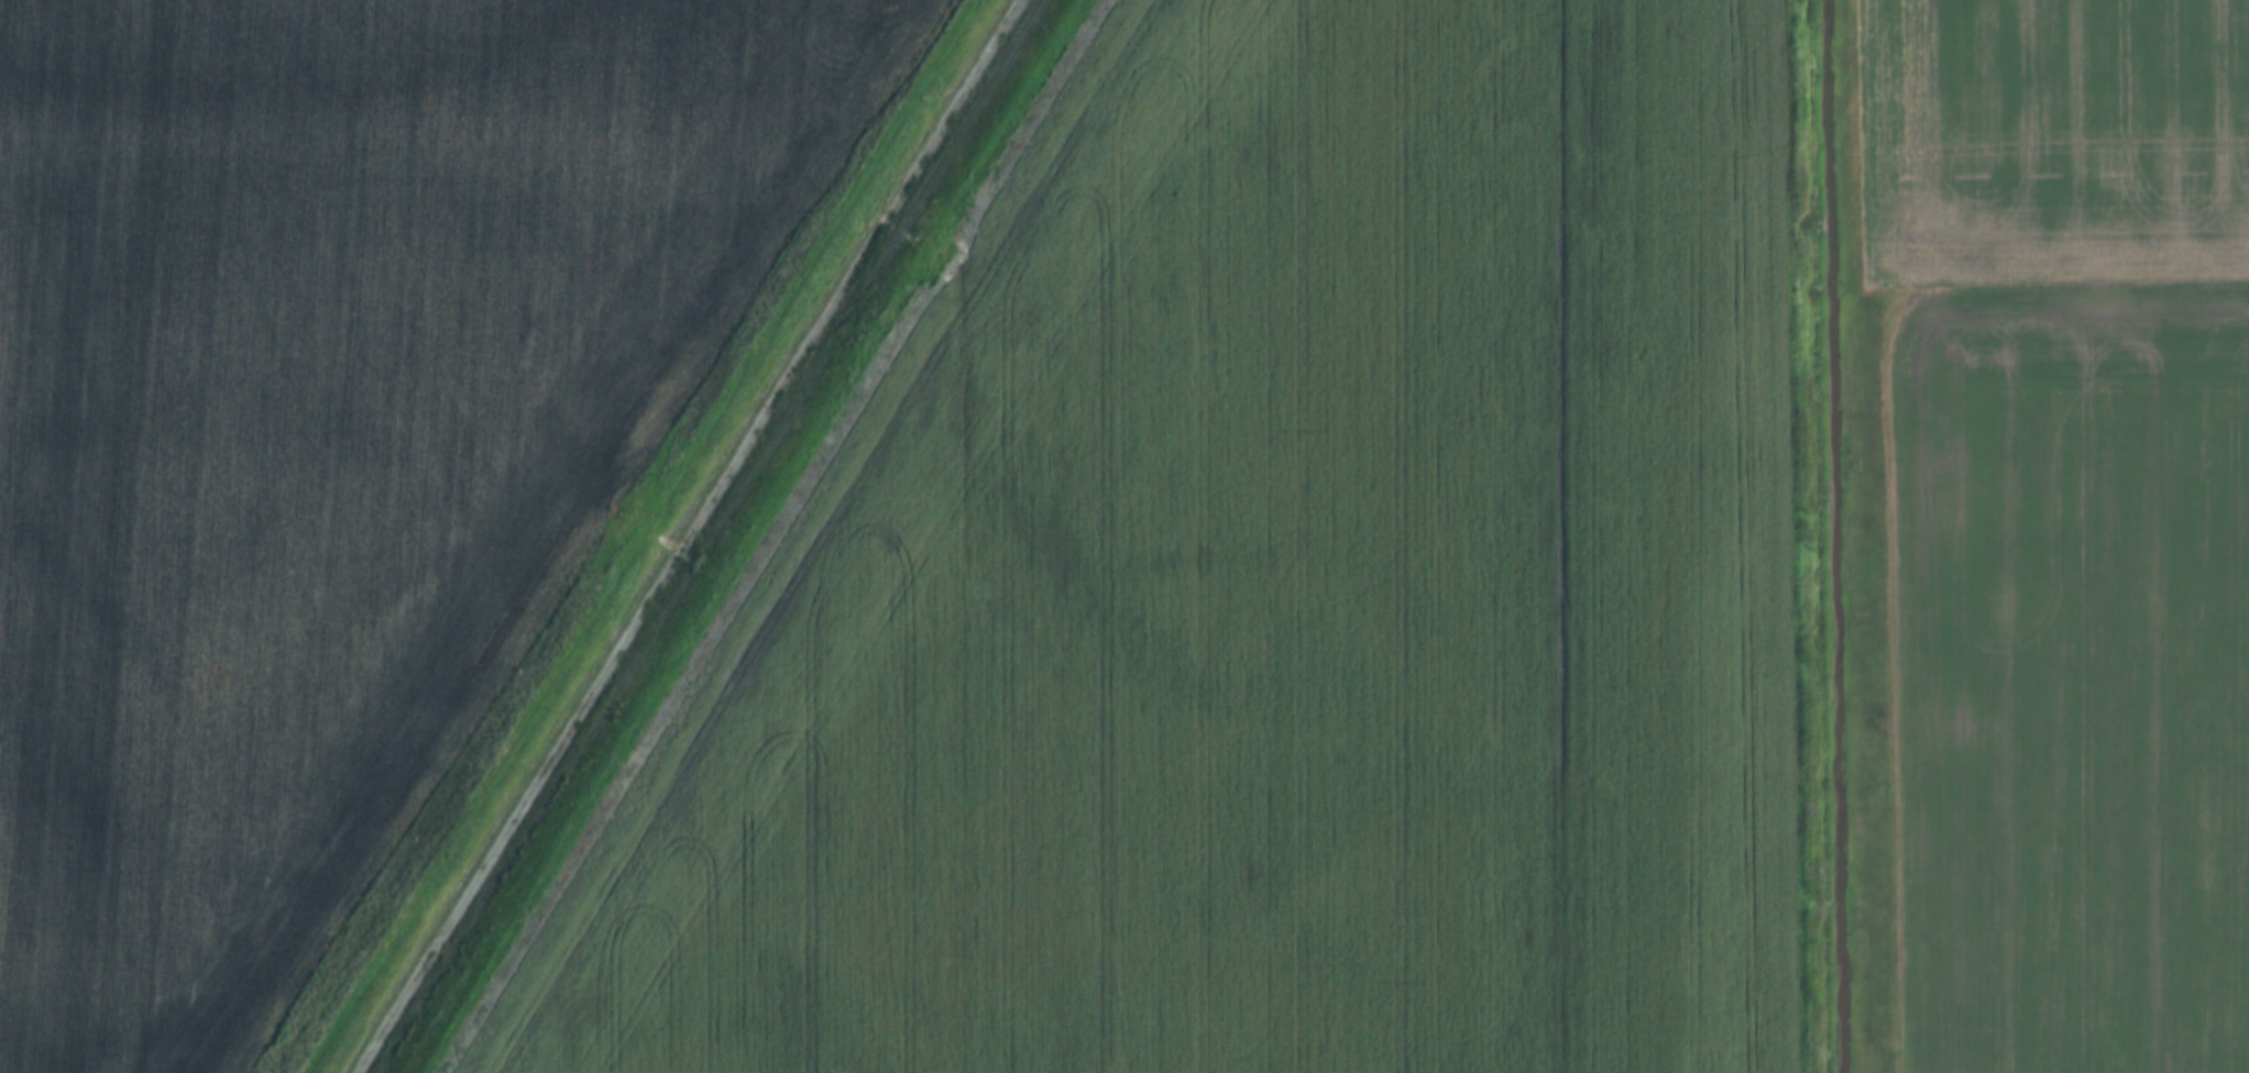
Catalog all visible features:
road: (1810, 536)

